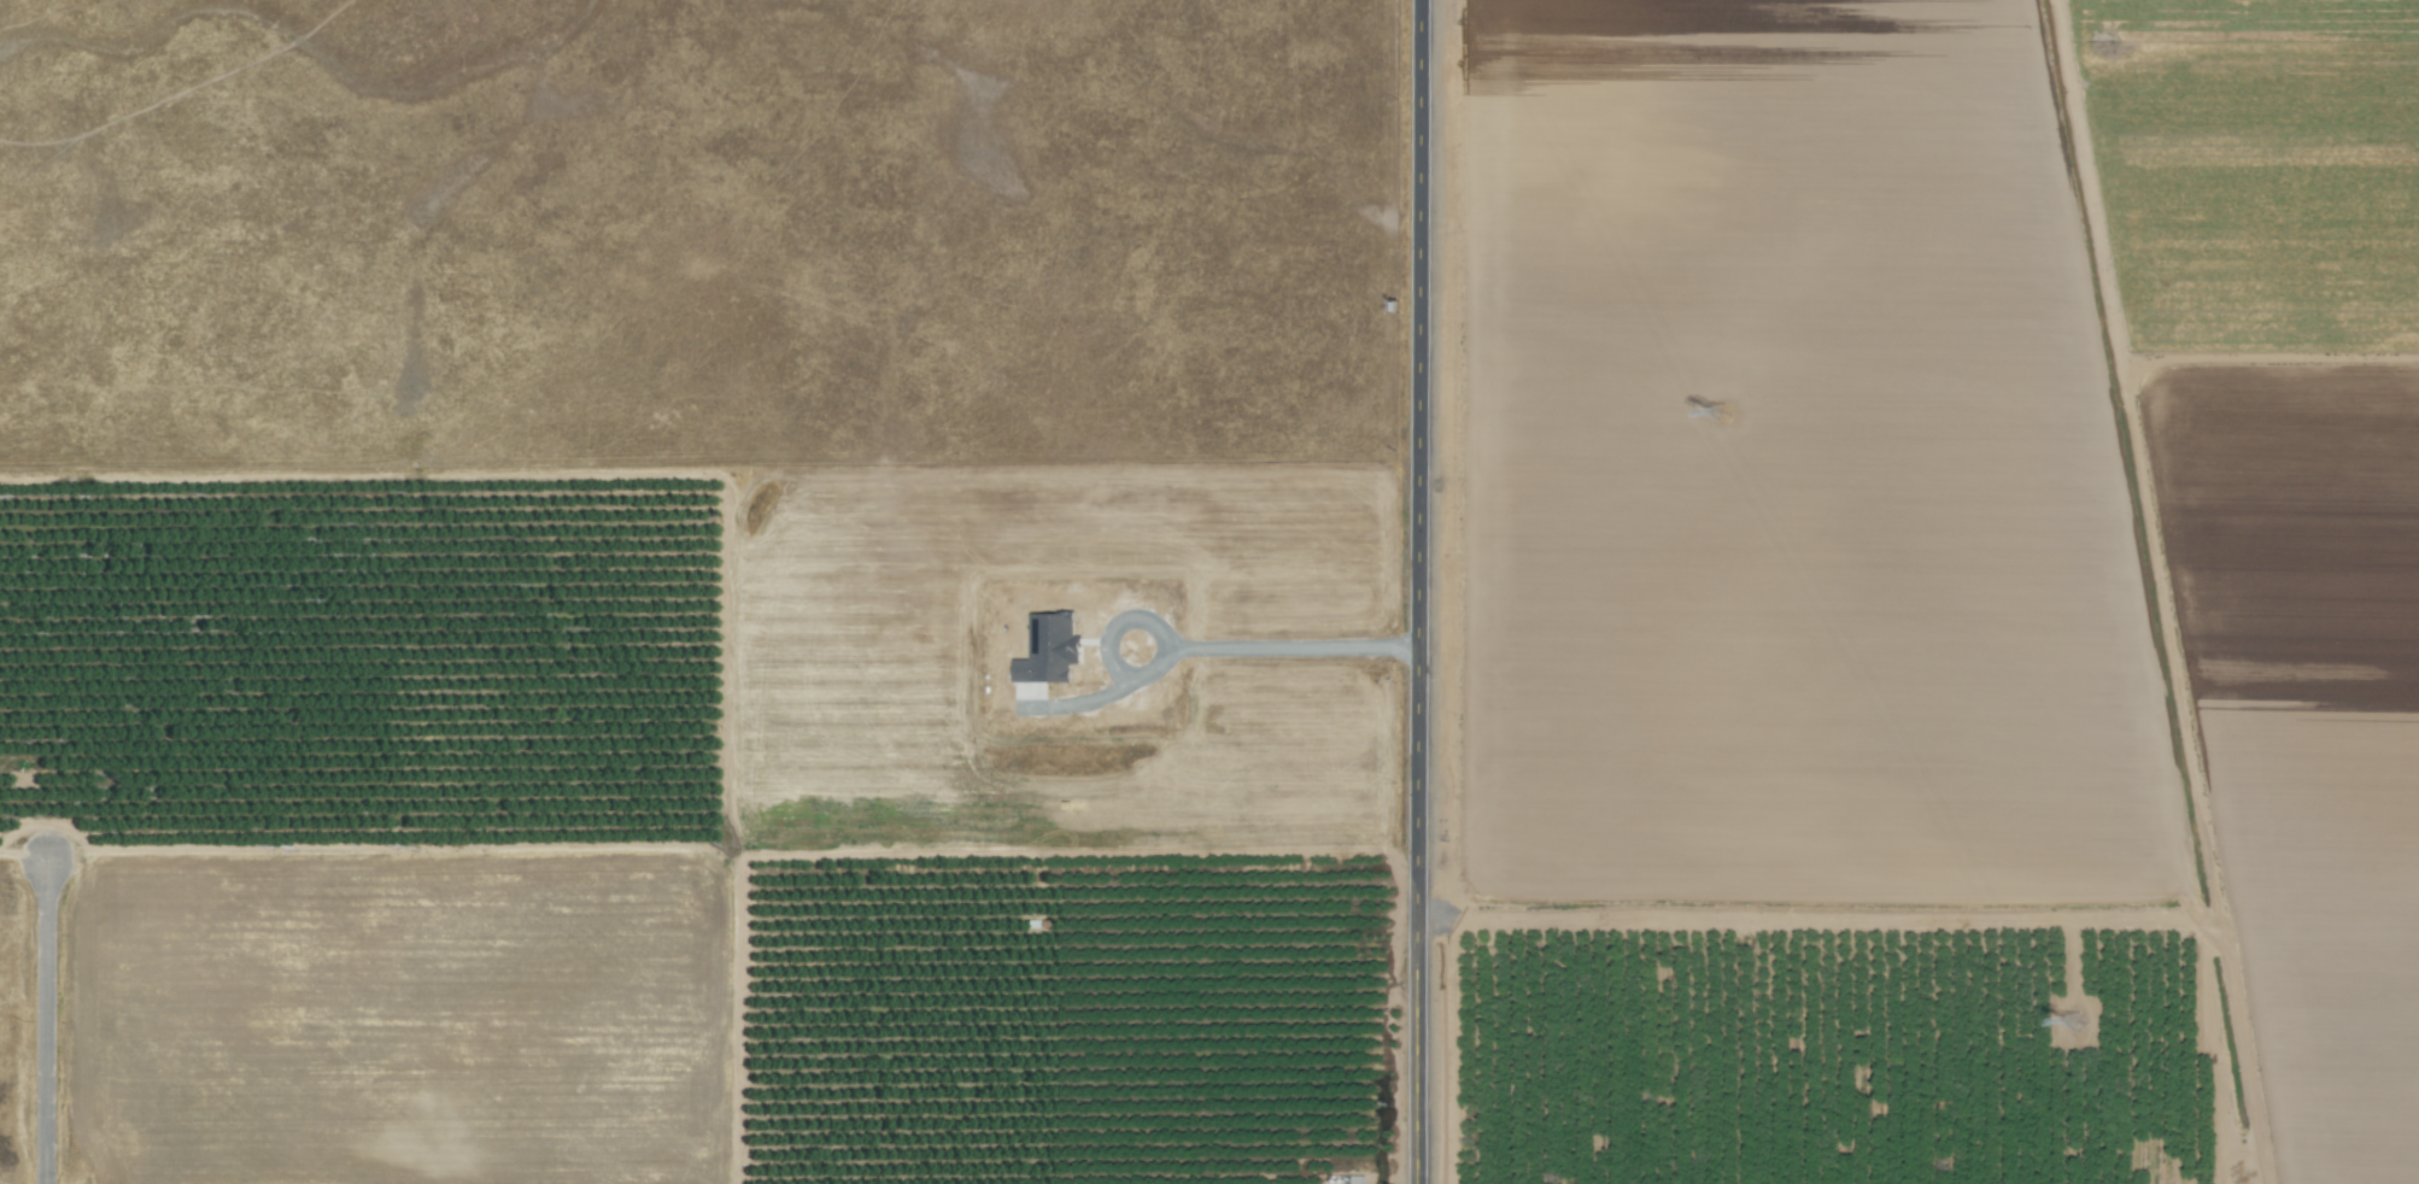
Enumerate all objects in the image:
power tower: (1720, 412)
road: (1417, 592)
road: (1194, 643)
road: (45, 1021)
power tower: (2072, 1021)

